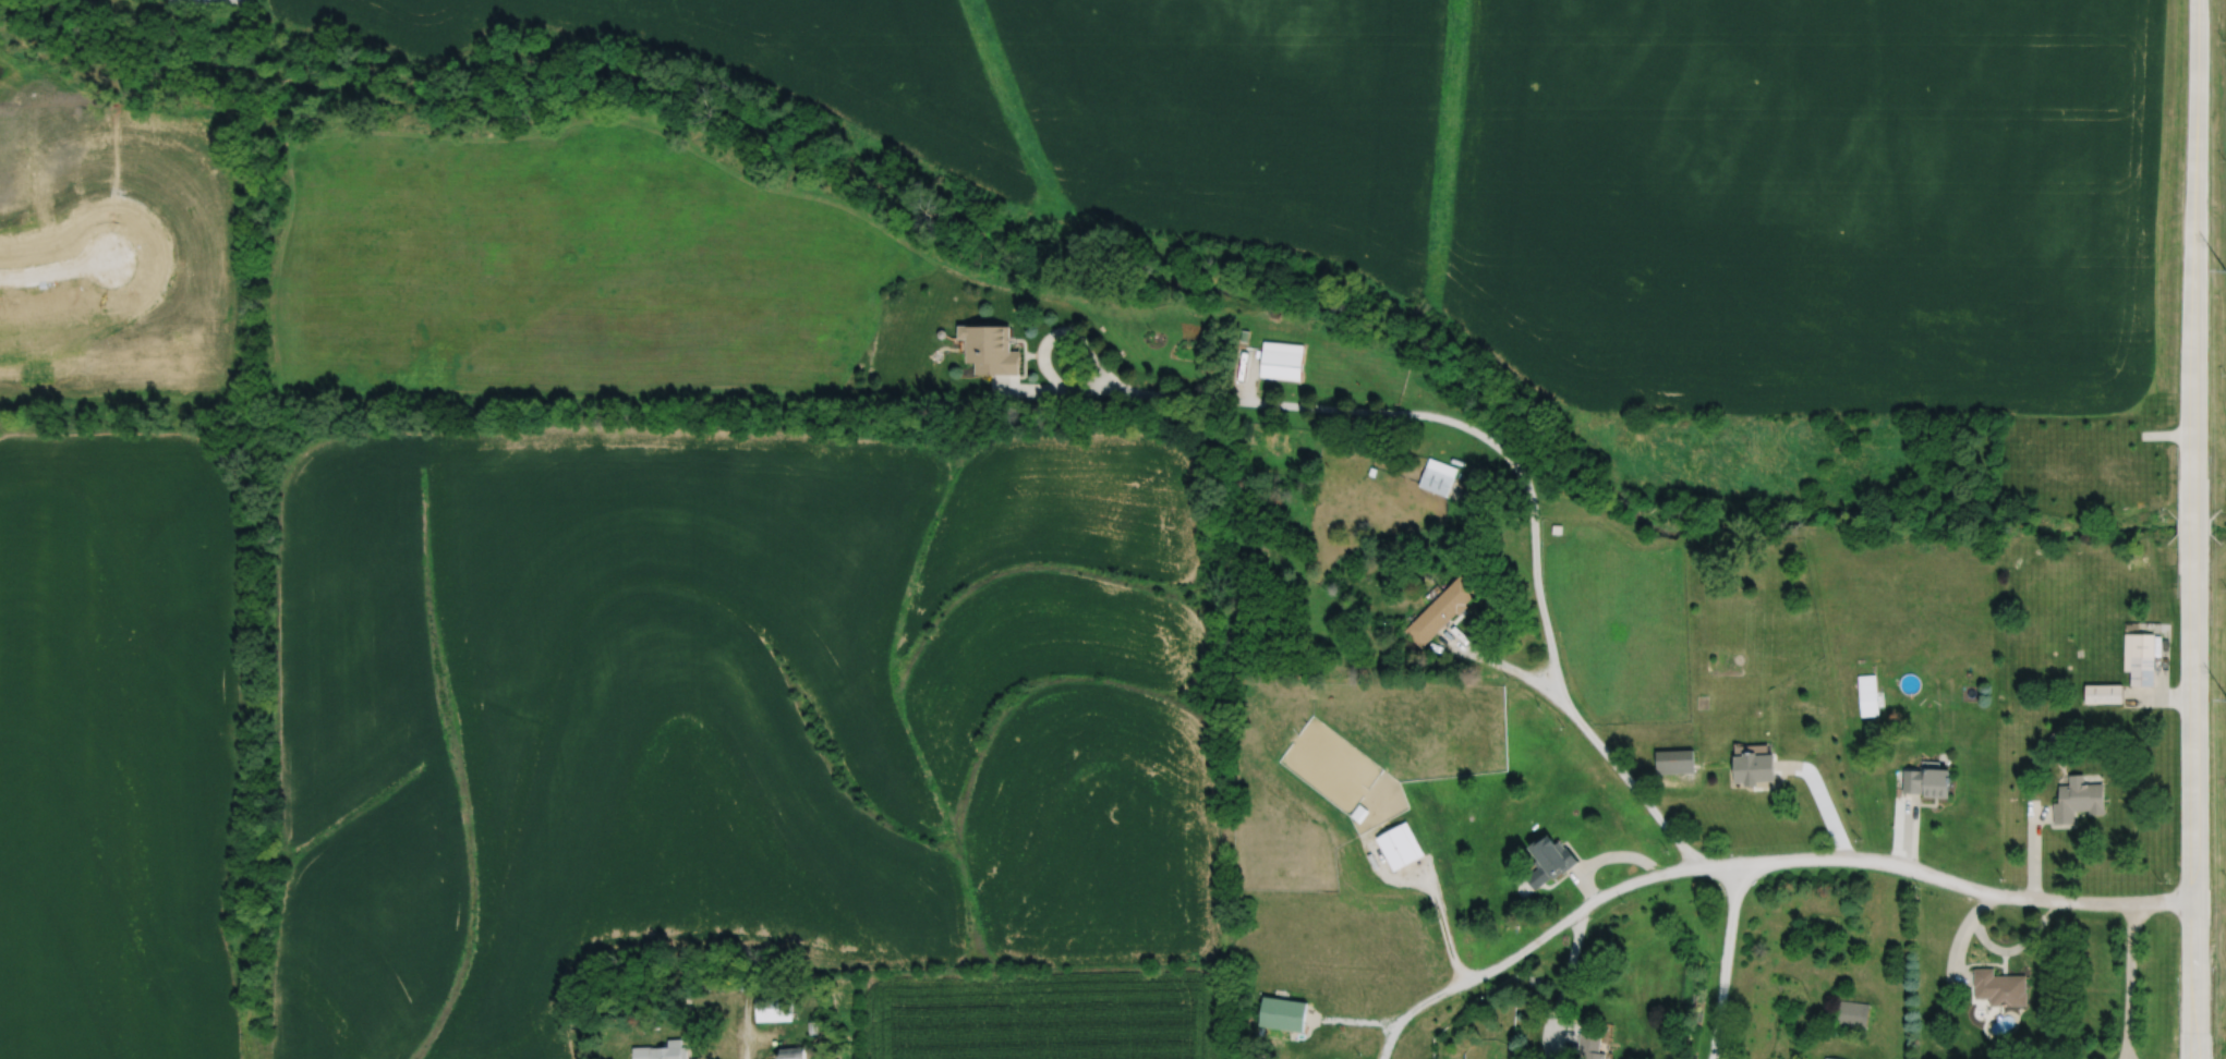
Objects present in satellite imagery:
crop: (1552, 165)
road: (2194, 248)
road: (56, 269)
power tower: (2225, 269)
road: (1066, 330)
building: (940, 331)
building: (1244, 333)
building: (989, 346)
building: (1281, 358)
road: (1243, 374)
road: (1371, 410)
building: (1370, 470)
building: (1437, 475)
road: (2192, 521)
building: (1556, 527)
building: (1439, 610)
building: (2138, 657)
road: (1493, 659)
road: (2160, 683)
building: (2102, 693)
building: (1866, 694)
road: (2142, 695)
crop: (603, 742)
building: (1673, 760)
building: (1752, 768)
road: (1623, 771)
building: (1926, 780)
road: (2193, 787)
road: (1820, 796)
building: (2076, 799)
building: (1358, 811)
road: (1903, 830)
building: (1400, 843)
road: (2033, 848)
road: (1602, 856)
building: (1549, 857)
road: (1885, 861)
road: (1431, 890)
road: (1959, 937)
road: (2016, 947)
road: (1725, 960)
building: (748, 975)
building: (1533, 975)
road: (1473, 976)
road: (2129, 979)
road: (1563, 983)
building: (1999, 985)
building: (773, 1003)
building: (1282, 1011)
building: (1852, 1012)
road: (1354, 1018)
building: (812, 1025)
building: (1259, 1028)
road: (745, 1031)
road: (2194, 1045)
building: (1589, 1046)
building: (661, 1050)
building: (793, 1051)
building: (1831, 1058)

